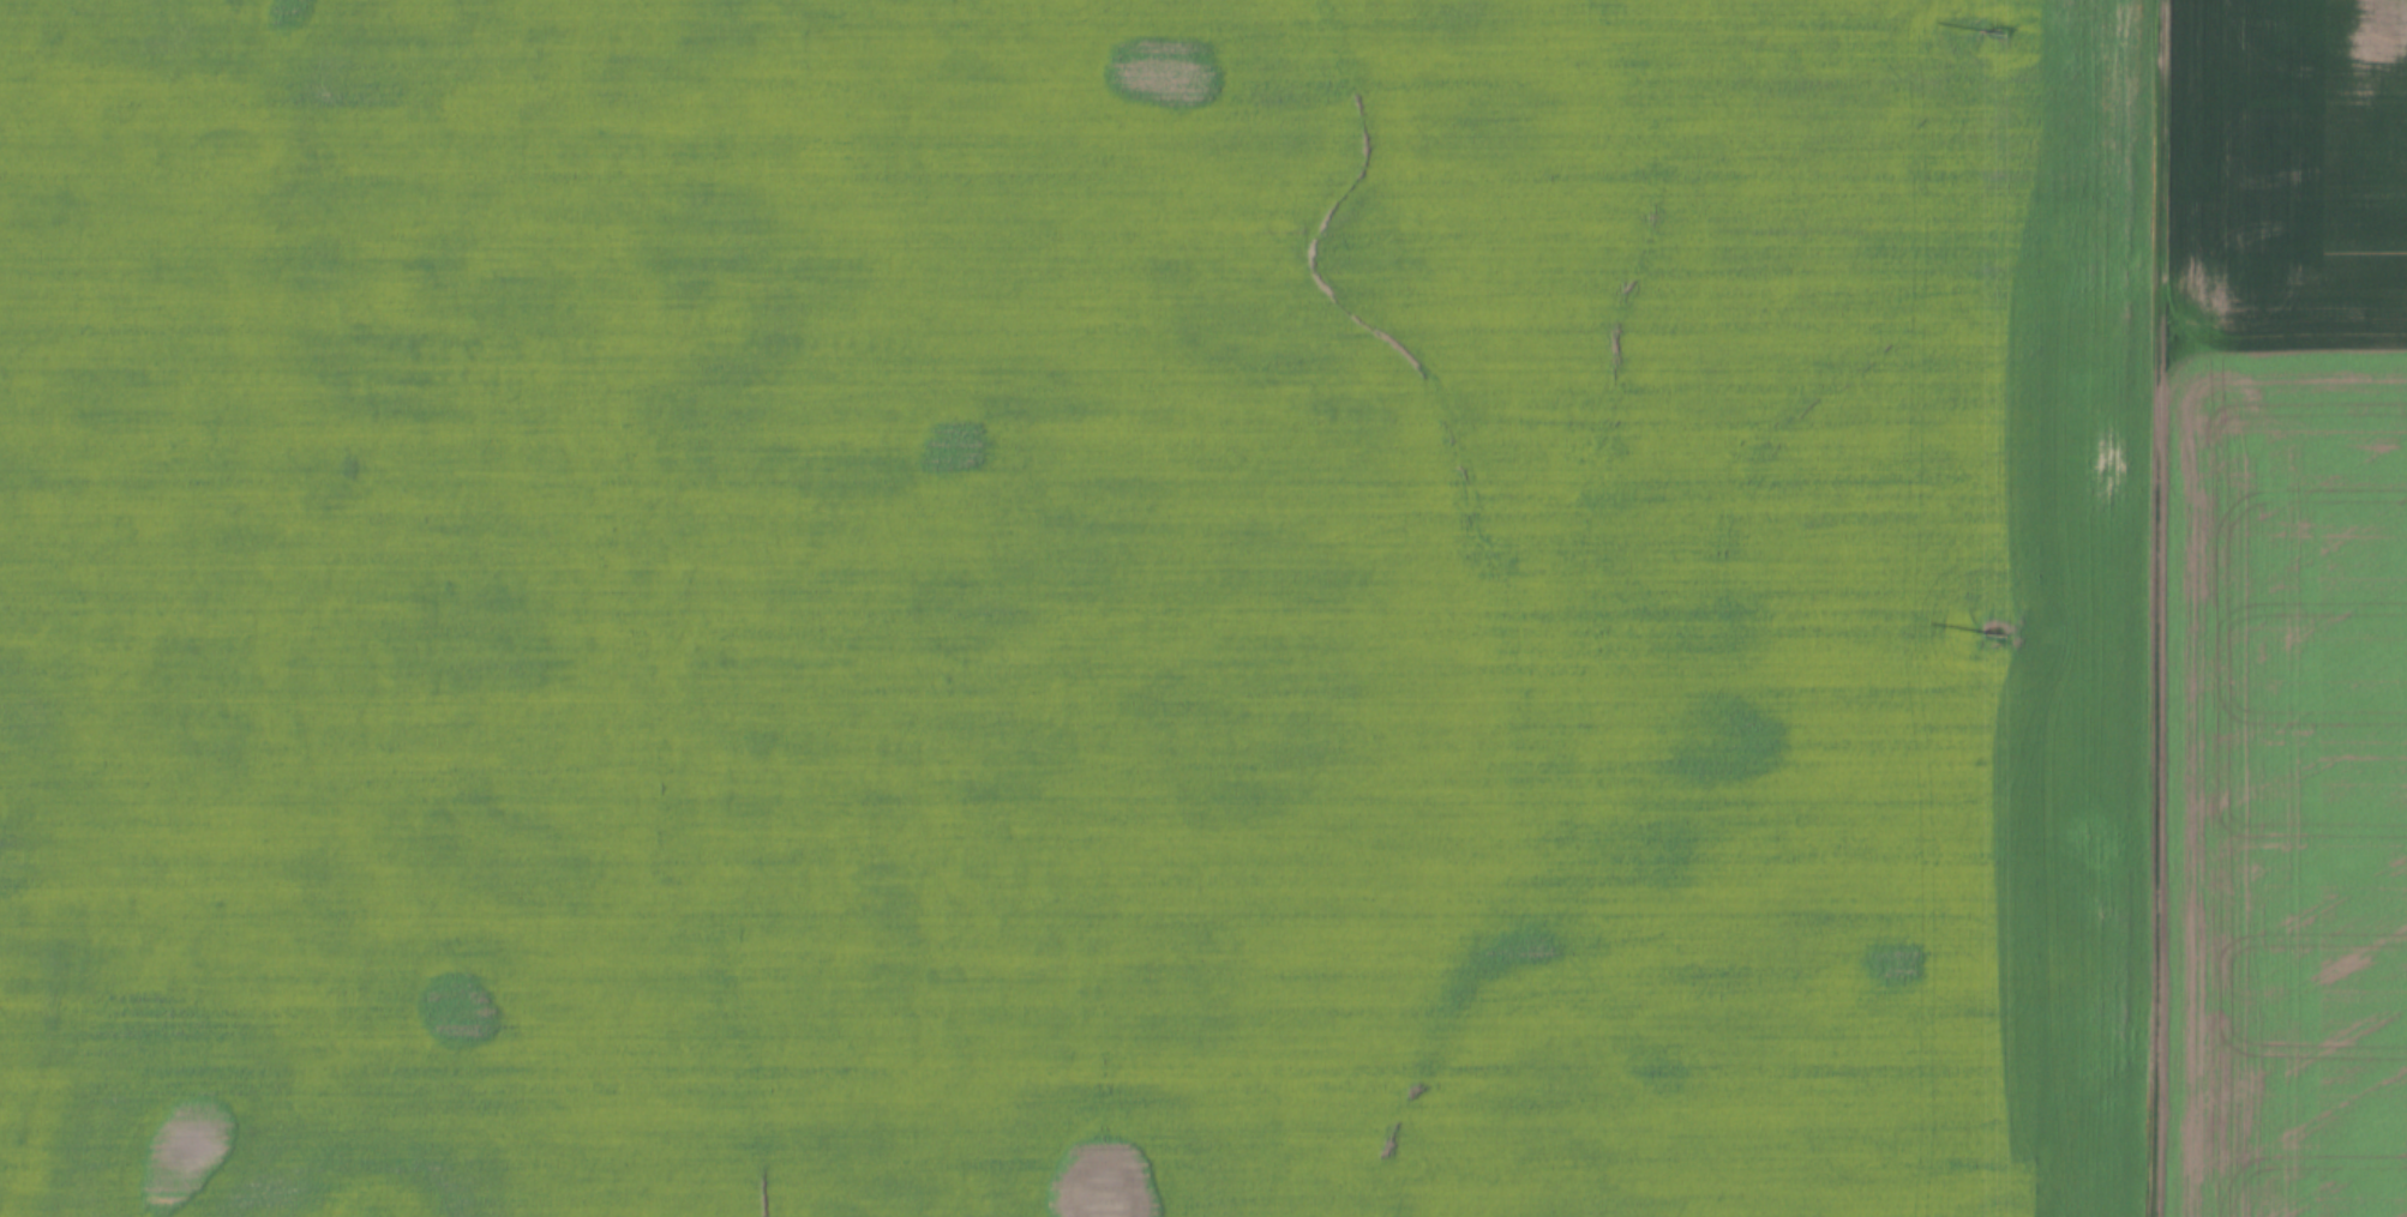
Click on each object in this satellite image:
road: (2159, 500)

